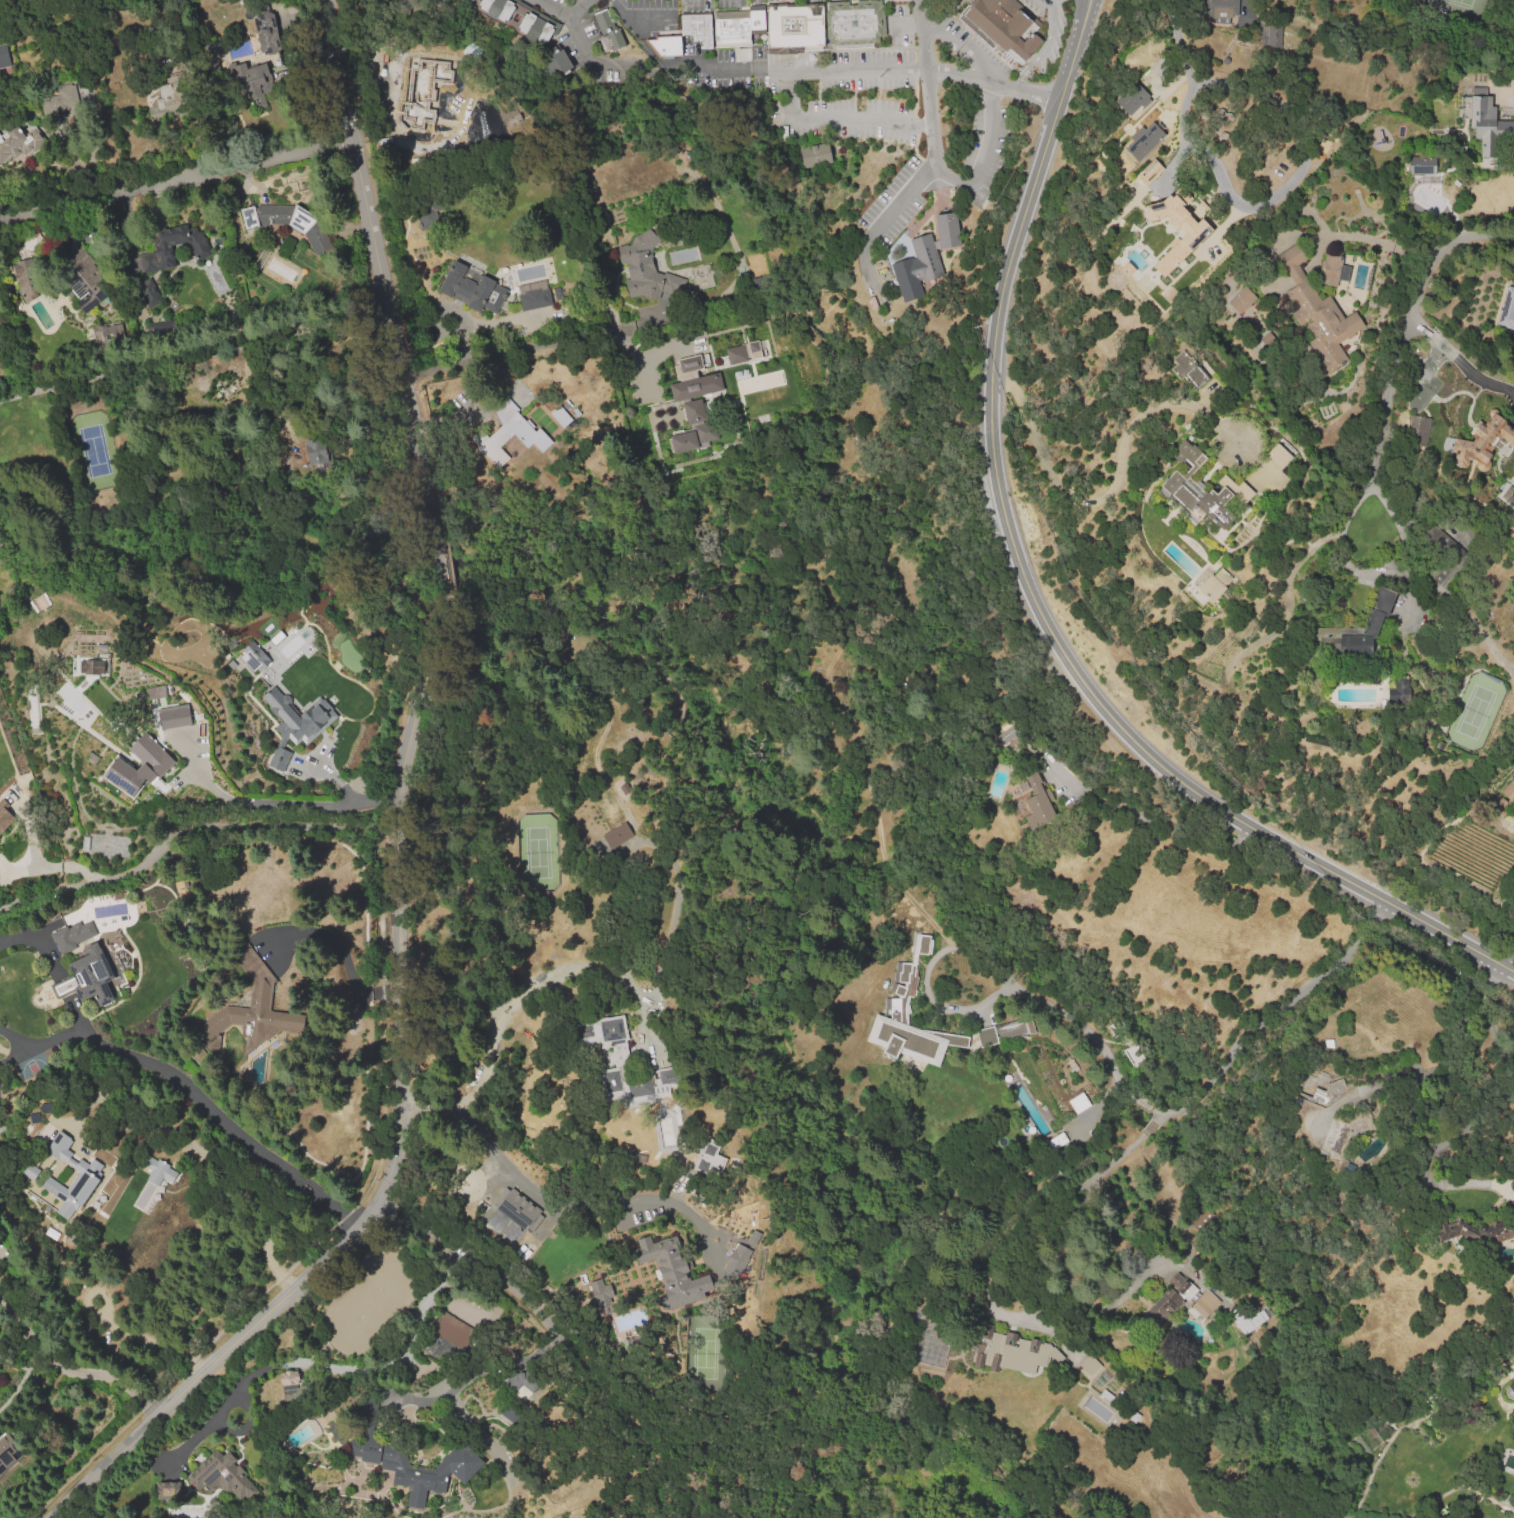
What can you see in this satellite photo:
building: (468, 1)
building: (475, 2)
building: (484, 4)
road: (1244, 6)
road: (1083, 7)
road: (1086, 7)
road: (1089, 7)
building: (495, 8)
road: (577, 10)
building: (1219, 10)
building: (507, 11)
building: (518, 15)
road: (638, 18)
building: (527, 21)
building: (758, 22)
building: (538, 24)
building: (854, 24)
building: (797, 27)
building: (1005, 27)
building: (732, 29)
building: (698, 30)
building: (608, 32)
building: (268, 33)
building: (1273, 35)
road: (645, 44)
building: (667, 46)
road: (1043, 47)
building: (211, 50)
building: (4, 62)
building: (558, 66)
building: (436, 70)
road: (715, 72)
building: (254, 76)
road: (929, 82)
road: (993, 82)
building: (177, 83)
road: (1507, 91)
parking lot: (846, 97)
building: (1131, 97)
building: (61, 99)
building: (167, 100)
building: (422, 102)
building: (516, 111)
building: (1483, 112)
road: (840, 118)
building: (1144, 139)
road: (1206, 144)
building: (18, 146)
building: (816, 155)
building: (1429, 166)
building: (1148, 172)
road: (182, 178)
road: (962, 186)
flagpole: (956, 208)
building: (427, 215)
building: (287, 223)
building: (947, 229)
building: (1197, 230)
road: (1371, 240)
building: (200, 249)
building: (897, 249)
road: (1444, 250)
building: (647, 268)
building: (1126, 268)
building: (915, 270)
building: (1345, 270)
building: (1331, 271)
building: (79, 277)
building: (24, 278)
building: (465, 287)
building: (147, 292)
building: (535, 299)
building: (1241, 299)
building: (1316, 311)
building: (1507, 311)
building: (0, 322)
building: (106, 335)
road: (518, 349)
building: (741, 352)
road: (194, 354)
road: (633, 359)
road: (1461, 362)
building: (686, 366)
building: (1188, 372)
building: (695, 386)
building: (756, 391)
road: (1389, 407)
building: (675, 412)
building: (693, 428)
building: (1418, 431)
building: (512, 435)
building: (1484, 440)
building: (317, 452)
building: (1278, 456)
road: (1111, 490)
building: (1508, 494)
building: (1207, 497)
road: (1386, 505)
building: (1442, 555)
building: (1215, 585)
road: (1034, 606)
building: (1371, 623)
building: (254, 657)
building: (72, 666)
building: (93, 666)
building: (154, 691)
building: (1398, 691)
building: (294, 722)
building: (179, 734)
building: (1012, 738)
building: (139, 765)
building: (1020, 783)
building: (1507, 797)
building: (1039, 801)
road: (275, 803)
building: (4, 817)
road: (401, 820)
road: (191, 831)
building: (616, 834)
building: (103, 844)
building: (85, 845)
road: (50, 865)
building: (158, 882)
building: (71, 936)
road: (19, 938)
road: (1508, 954)
building: (89, 977)
road: (540, 979)
road: (352, 985)
building: (260, 993)
road: (1041, 1000)
building: (896, 1006)
building: (1117, 1030)
building: (1003, 1031)
road: (1240, 1041)
building: (618, 1052)
building: (1133, 1056)
road: (189, 1092)
building: (1328, 1112)
building: (63, 1149)
building: (709, 1158)
building: (30, 1171)
building: (158, 1171)
building: (71, 1193)
road: (542, 1198)
building: (517, 1208)
building: (1474, 1231)
building: (737, 1259)
building: (672, 1271)
building: (1180, 1291)
building: (601, 1292)
building: (118, 1298)
building: (1207, 1302)
building: (1261, 1316)
building: (1255, 1320)
building: (1243, 1325)
building: (450, 1329)
road: (558, 1333)
road: (139, 1334)
building: (1011, 1353)
building: (308, 1365)
building: (1089, 1365)
road: (68, 1368)
road: (473, 1370)
building: (289, 1378)
building: (518, 1382)
building: (1511, 1386)
building: (1106, 1397)
building: (366, 1407)
building: (512, 1416)
building: (335, 1435)
building: (376, 1452)
building: (8, 1453)
building: (220, 1476)
building: (167, 1489)

